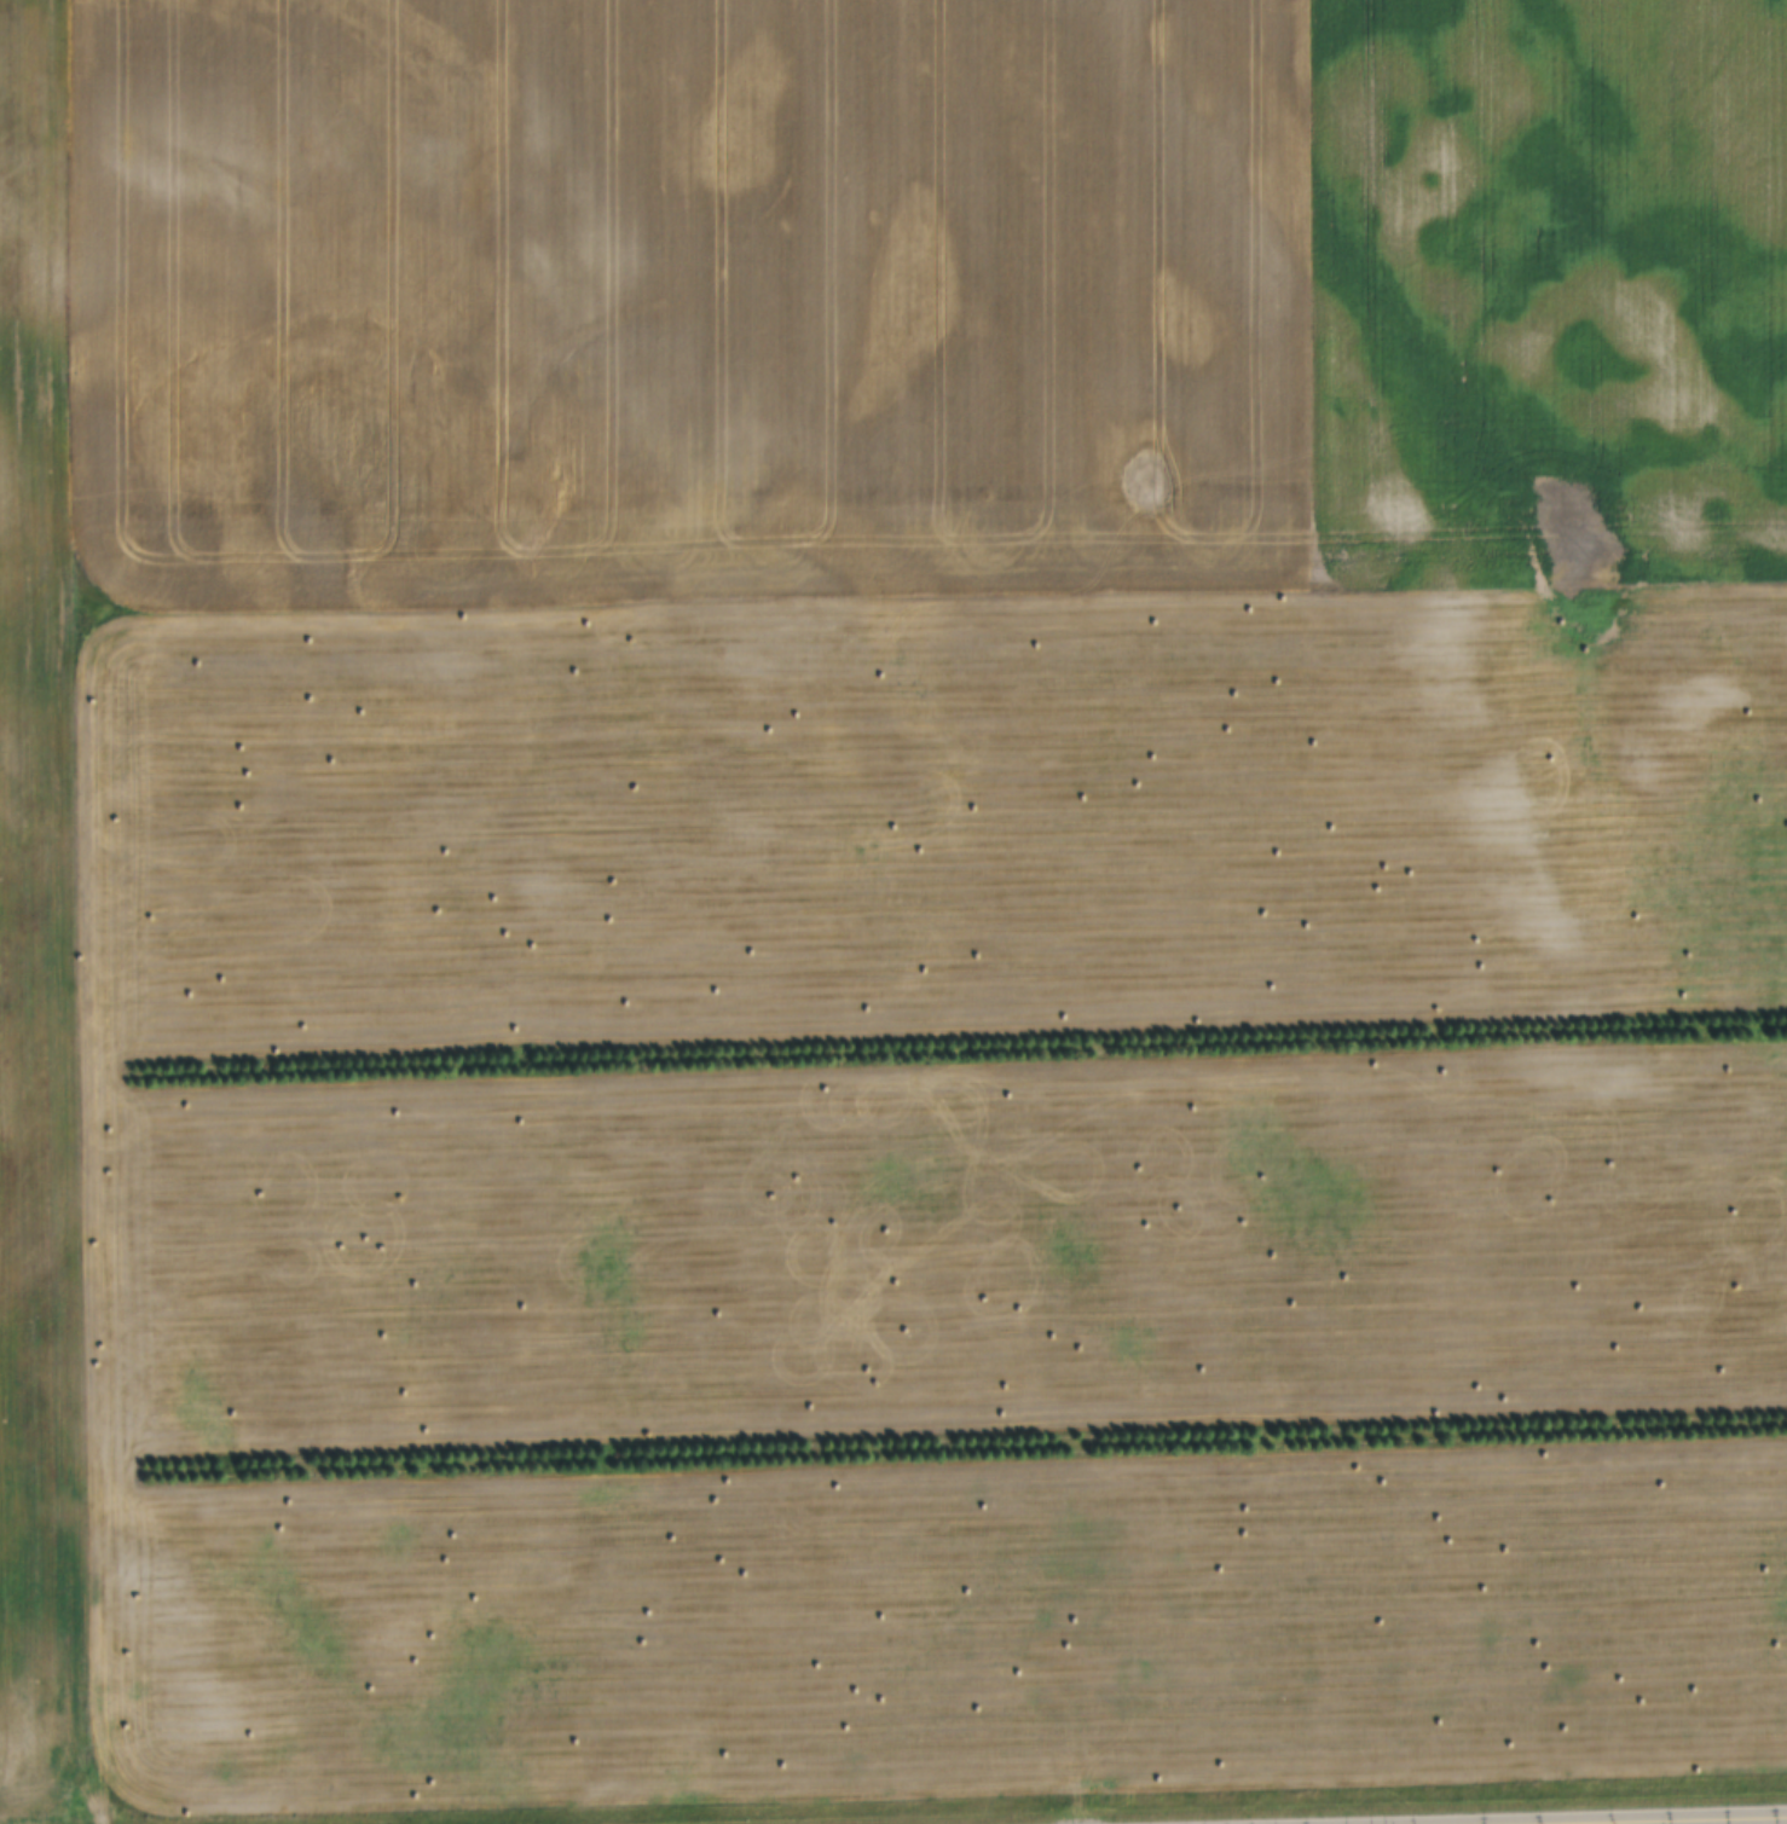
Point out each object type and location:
road: (1561, 1817)

